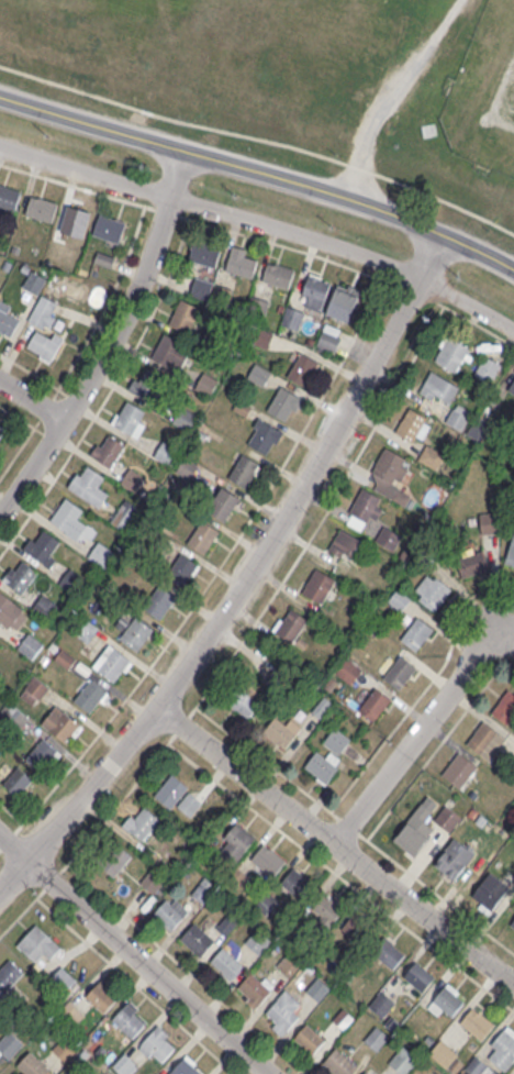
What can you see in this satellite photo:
park: (483, 90)
road: (392, 92)
road: (260, 137)
road: (260, 169)
road: (77, 185)
building: (9, 196)
building: (41, 207)
road: (212, 207)
road: (166, 211)
building: (109, 228)
road: (290, 246)
building: (204, 253)
road: (436, 255)
building: (241, 262)
building: (278, 274)
building: (34, 281)
building: (201, 287)
building: (315, 290)
road: (416, 291)
road: (440, 291)
road: (434, 298)
building: (344, 300)
road: (469, 301)
road: (105, 302)
building: (257, 307)
building: (185, 314)
building: (292, 317)
road: (474, 321)
building: (44, 328)
building: (329, 336)
road: (111, 340)
building: (170, 351)
building: (451, 353)
building: (302, 367)
building: (487, 368)
road: (33, 373)
building: (259, 374)
building: (149, 384)
building: (205, 384)
building: (511, 386)
building: (438, 388)
road: (108, 392)
road: (72, 396)
road: (33, 398)
building: (282, 401)
road: (46, 406)
building: (128, 416)
building: (458, 416)
building: (185, 418)
road: (21, 419)
building: (414, 425)
building: (0, 433)
road: (48, 435)
building: (264, 435)
road: (20, 446)
building: (109, 449)
building: (166, 452)
building: (431, 455)
building: (243, 469)
building: (388, 469)
building: (132, 478)
building: (89, 484)
building: (224, 500)
building: (365, 508)
building: (66, 513)
building: (125, 513)
building: (489, 522)
building: (203, 535)
building: (388, 536)
building: (42, 545)
building: (347, 545)
building: (511, 553)
building: (472, 563)
road: (217, 567)
building: (182, 568)
building: (20, 575)
building: (319, 585)
building: (432, 590)
building: (399, 598)
building: (158, 599)
road: (237, 600)
building: (44, 606)
building: (9, 612)
building: (290, 624)
building: (86, 629)
building: (135, 631)
building: (416, 632)
road: (245, 633)
building: (30, 644)
road: (511, 649)
road: (491, 652)
road: (504, 663)
building: (112, 664)
building: (348, 669)
building: (400, 672)
building: (34, 689)
road: (424, 689)
building: (89, 694)
building: (242, 700)
building: (375, 702)
building: (505, 706)
building: (16, 716)
building: (65, 724)
road: (425, 728)
building: (282, 730)
building: (485, 739)
building: (336, 740)
road: (436, 745)
building: (43, 753)
road: (266, 761)
building: (322, 764)
building: (459, 769)
building: (18, 780)
building: (171, 790)
building: (189, 802)
road: (11, 811)
building: (447, 817)
building: (141, 821)
road: (348, 824)
building: (238, 838)
building: (411, 838)
road: (5, 839)
road: (339, 840)
building: (455, 856)
building: (266, 857)
building: (115, 860)
road: (339, 875)
building: (153, 882)
building: (297, 882)
building: (203, 888)
building: (489, 890)
road: (436, 893)
building: (327, 908)
building: (170, 911)
building: (227, 922)
building: (511, 926)
building: (357, 928)
building: (198, 938)
building: (257, 941)
building: (38, 943)
building: (389, 952)
road: (137, 953)
building: (226, 962)
building: (288, 964)
road: (185, 968)
building: (9, 973)
building: (65, 975)
building: (420, 976)
road: (136, 985)
building: (254, 987)
building: (101, 996)
building: (447, 999)
building: (381, 1003)
building: (281, 1012)
building: (343, 1018)
building: (128, 1019)
building: (477, 1022)
building: (309, 1038)
building: (376, 1038)
building: (9, 1043)
building: (157, 1043)
building: (65, 1048)
building: (502, 1049)
building: (444, 1053)
building: (339, 1061)
building: (402, 1061)
building: (31, 1064)
building: (125, 1064)
building: (186, 1066)
building: (479, 1066)
building: (366, 1072)
building: (60, 1073)

